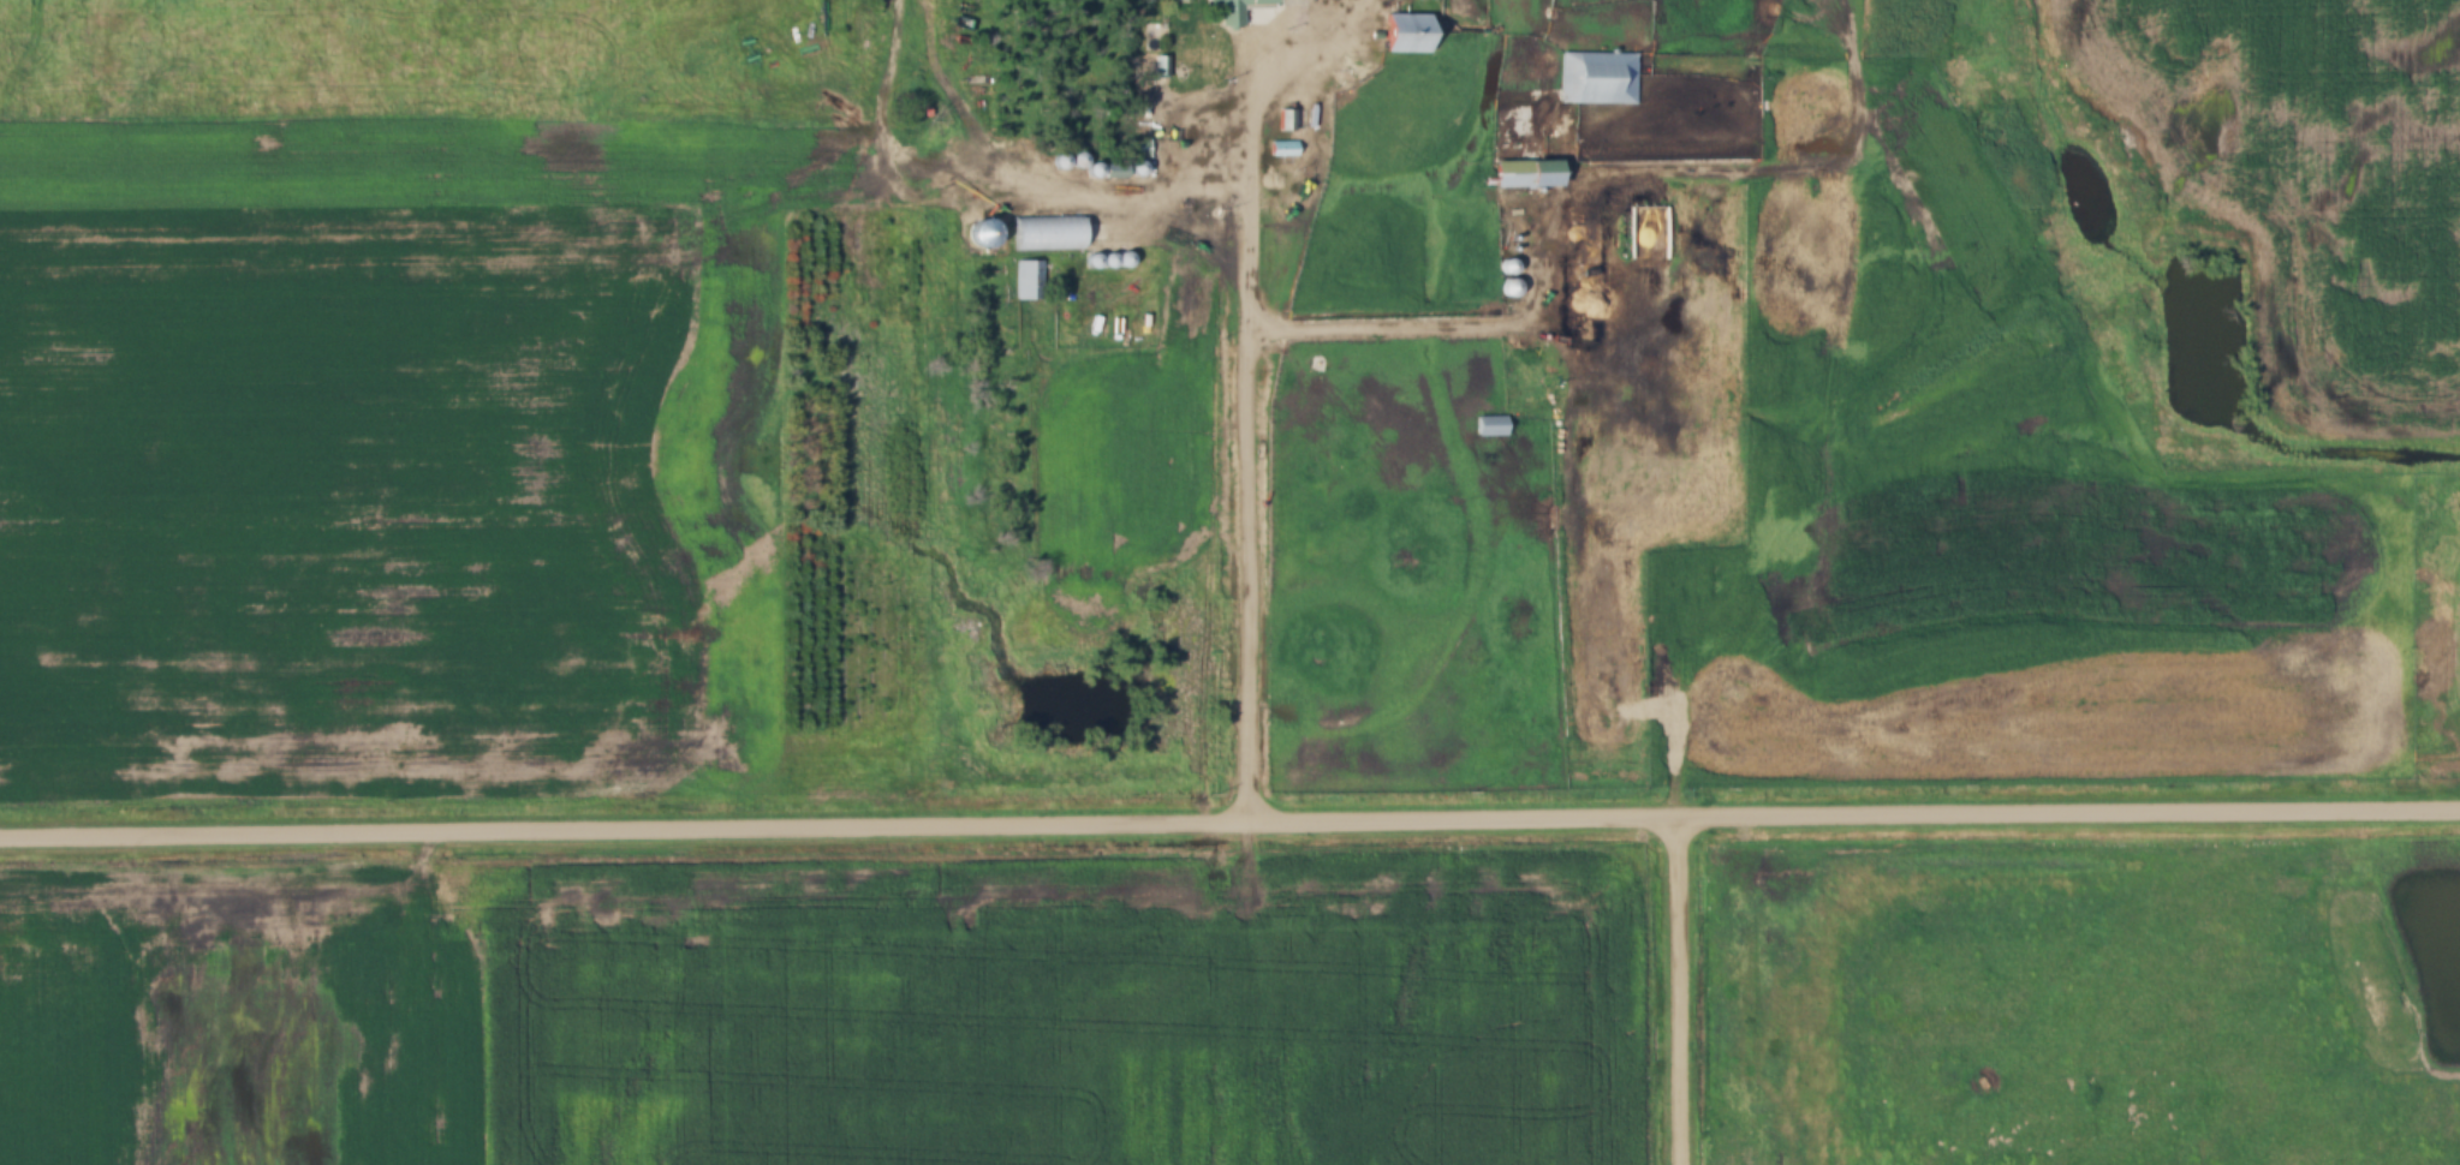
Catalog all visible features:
building: (1234, 10)
building: (1402, 34)
building: (1597, 79)
building: (1138, 148)
building: (1282, 149)
building: (1523, 175)
building: (984, 231)
building: (1046, 233)
building: (1029, 281)
building: (1506, 289)
building: (1490, 428)
road: (1253, 441)
road: (1229, 824)
road: (1682, 992)

